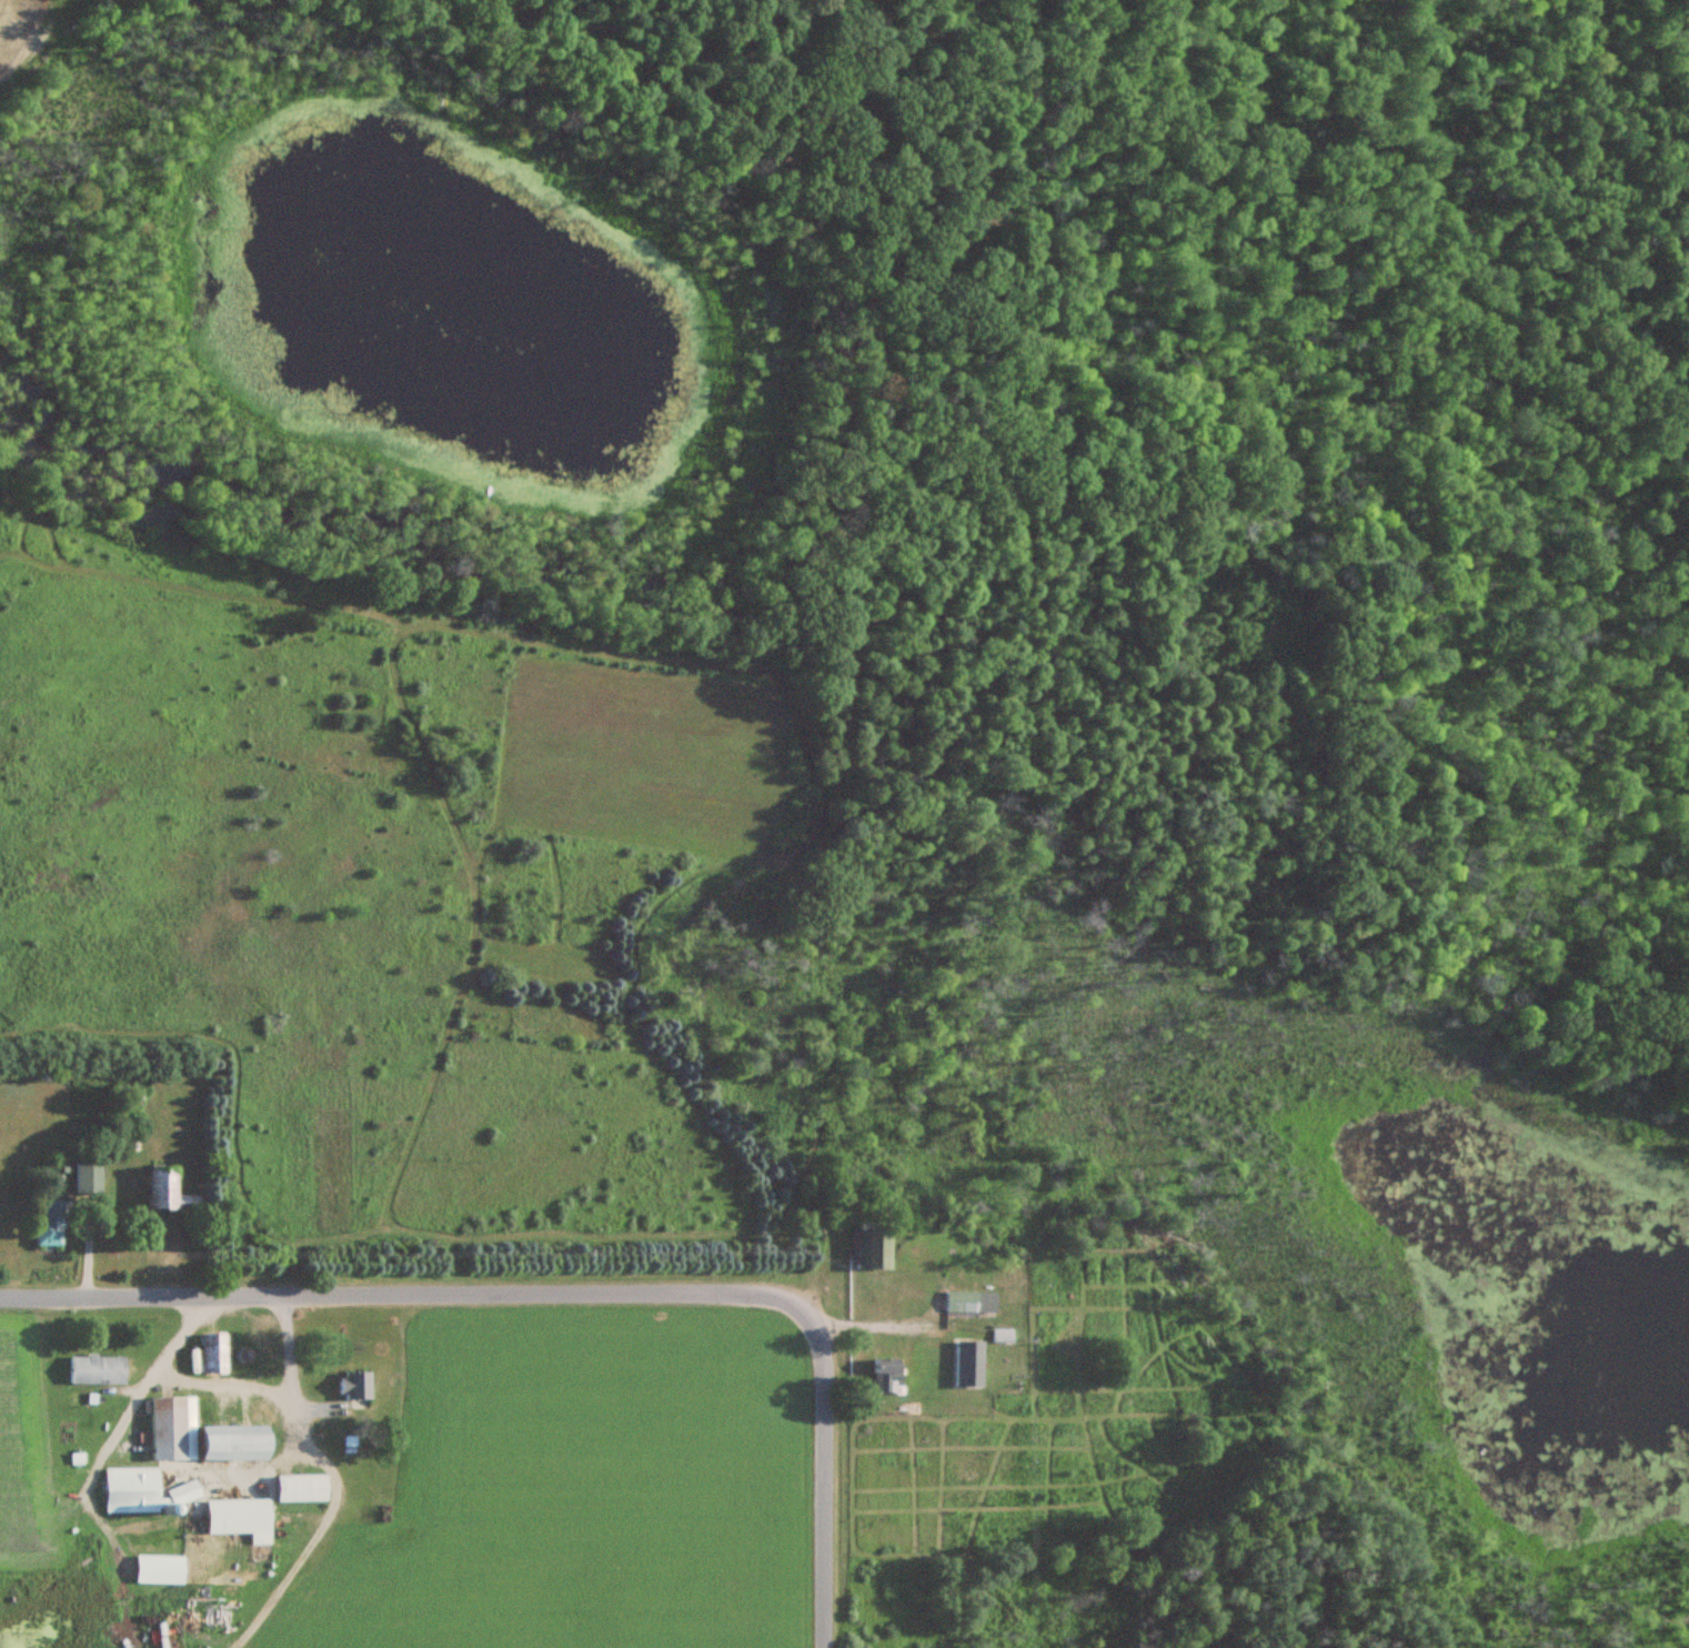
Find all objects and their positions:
building: (130, 1097)
building: (88, 1179)
building: (168, 1193)
building: (51, 1224)
building: (875, 1249)
road: (428, 1297)
building: (971, 1303)
building: (213, 1351)
building: (969, 1364)
building: (95, 1369)
building: (887, 1376)
building: (355, 1385)
road: (259, 1389)
road: (125, 1410)
building: (173, 1427)
building: (233, 1441)
building: (302, 1487)
building: (147, 1489)
road: (824, 1501)
building: (241, 1518)
building: (160, 1568)

